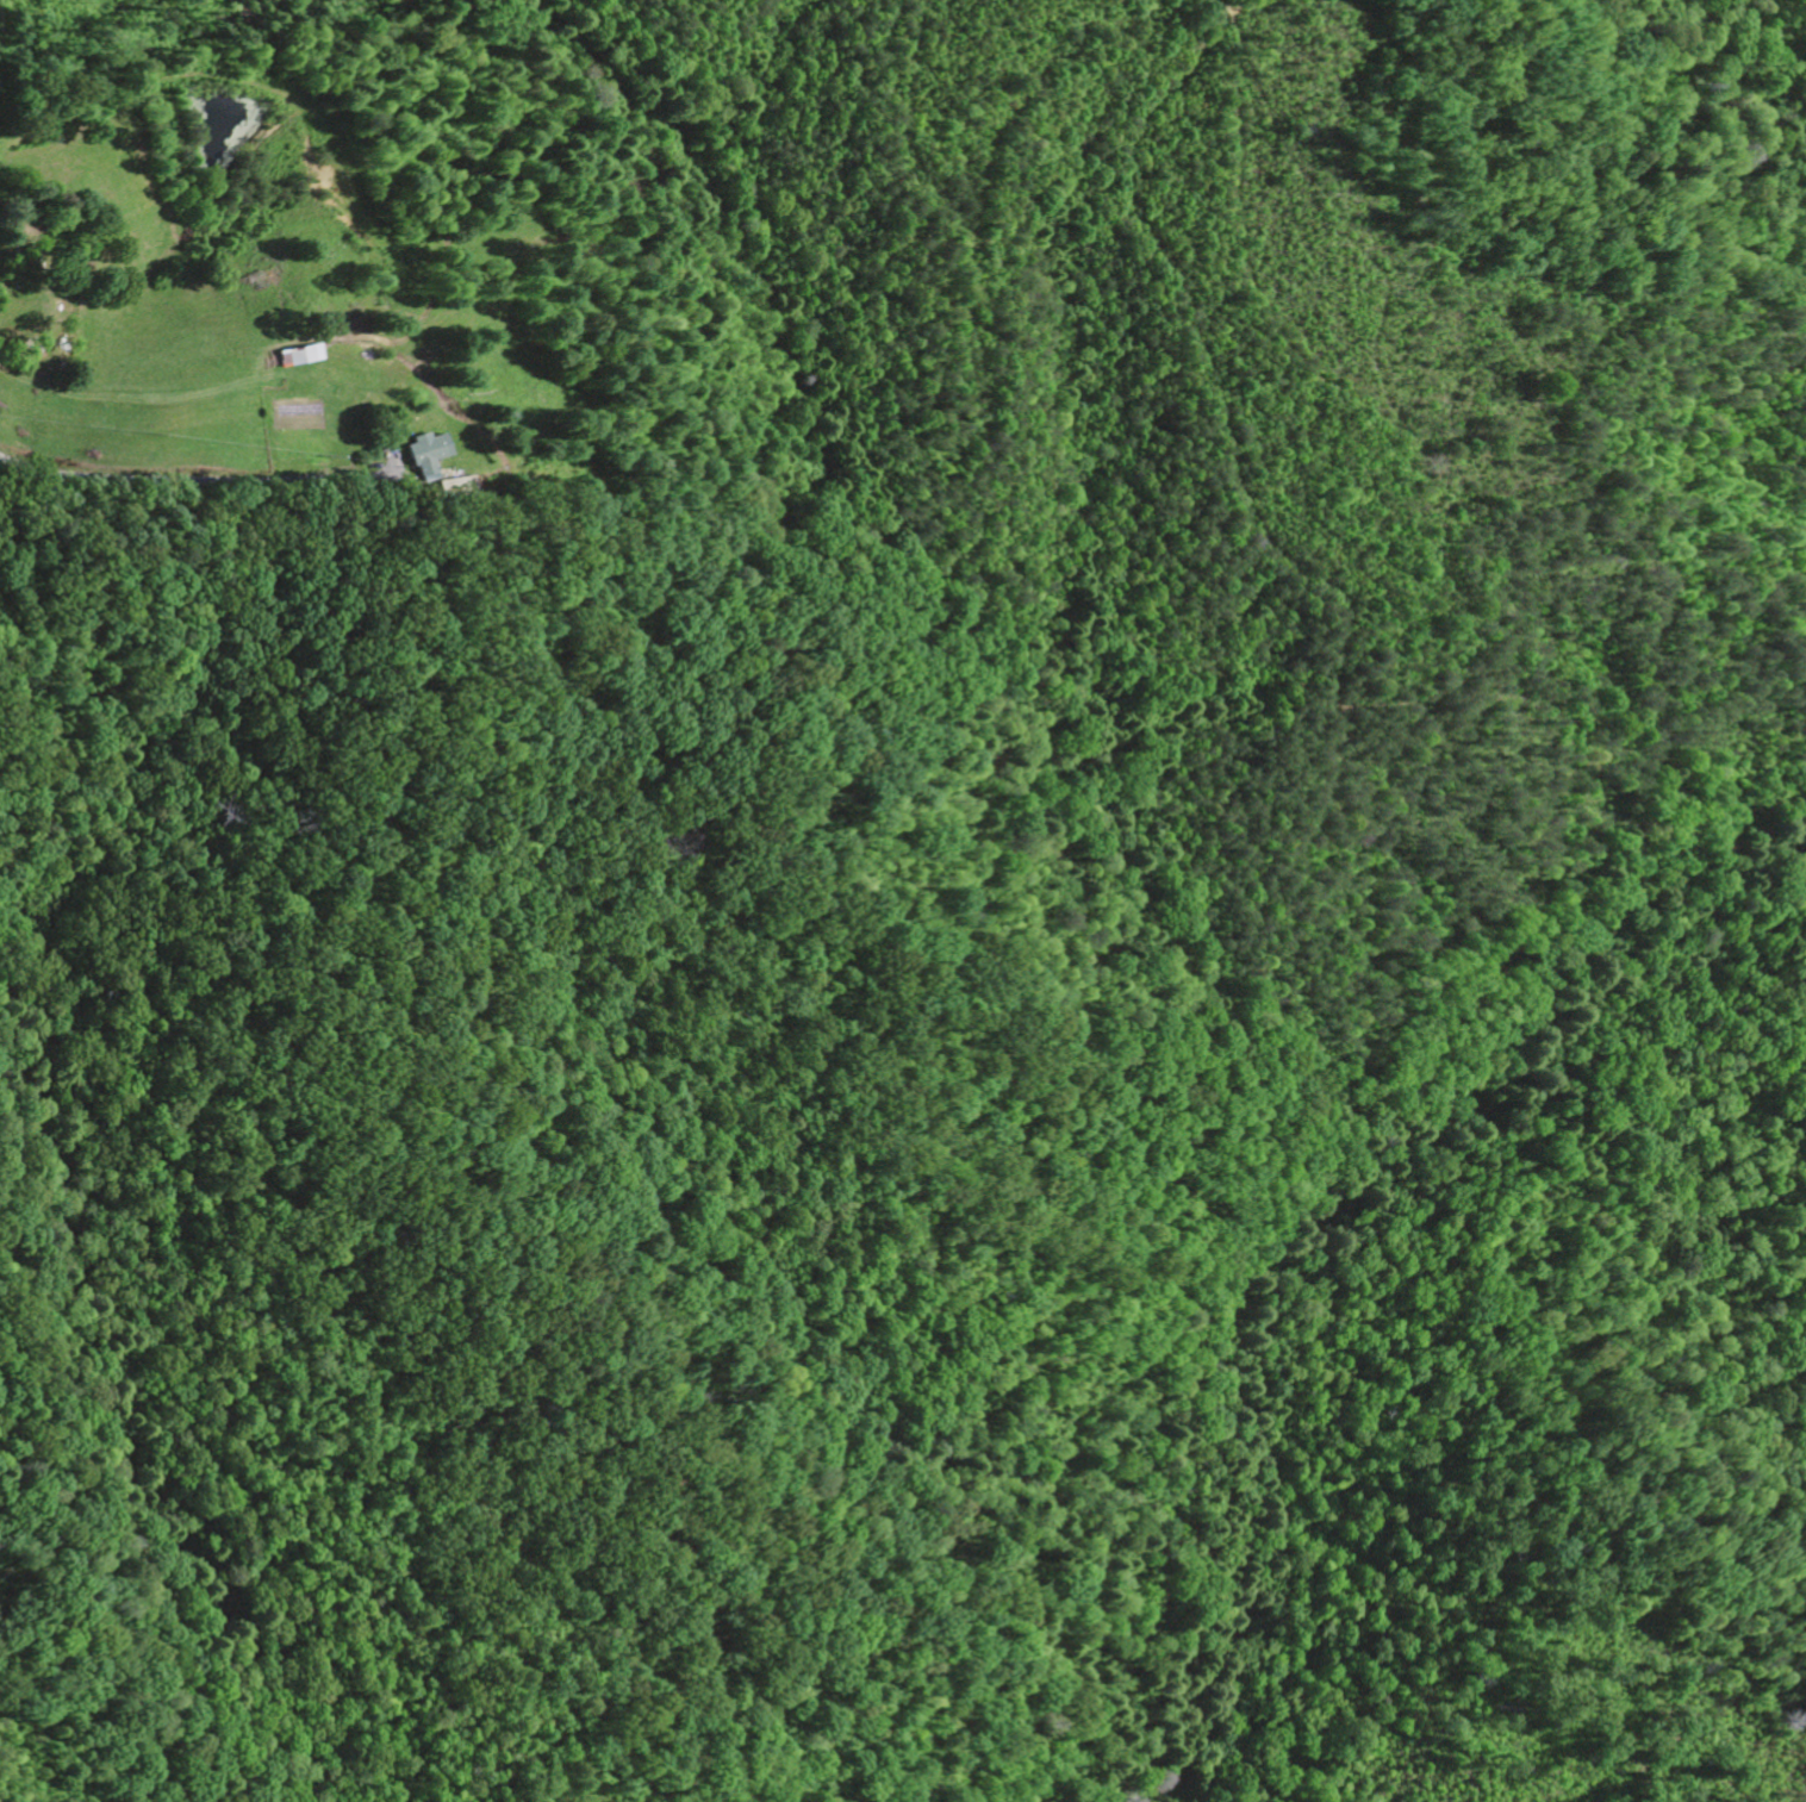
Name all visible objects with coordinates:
building: (298, 355)
building: (422, 454)
road: (183, 481)

